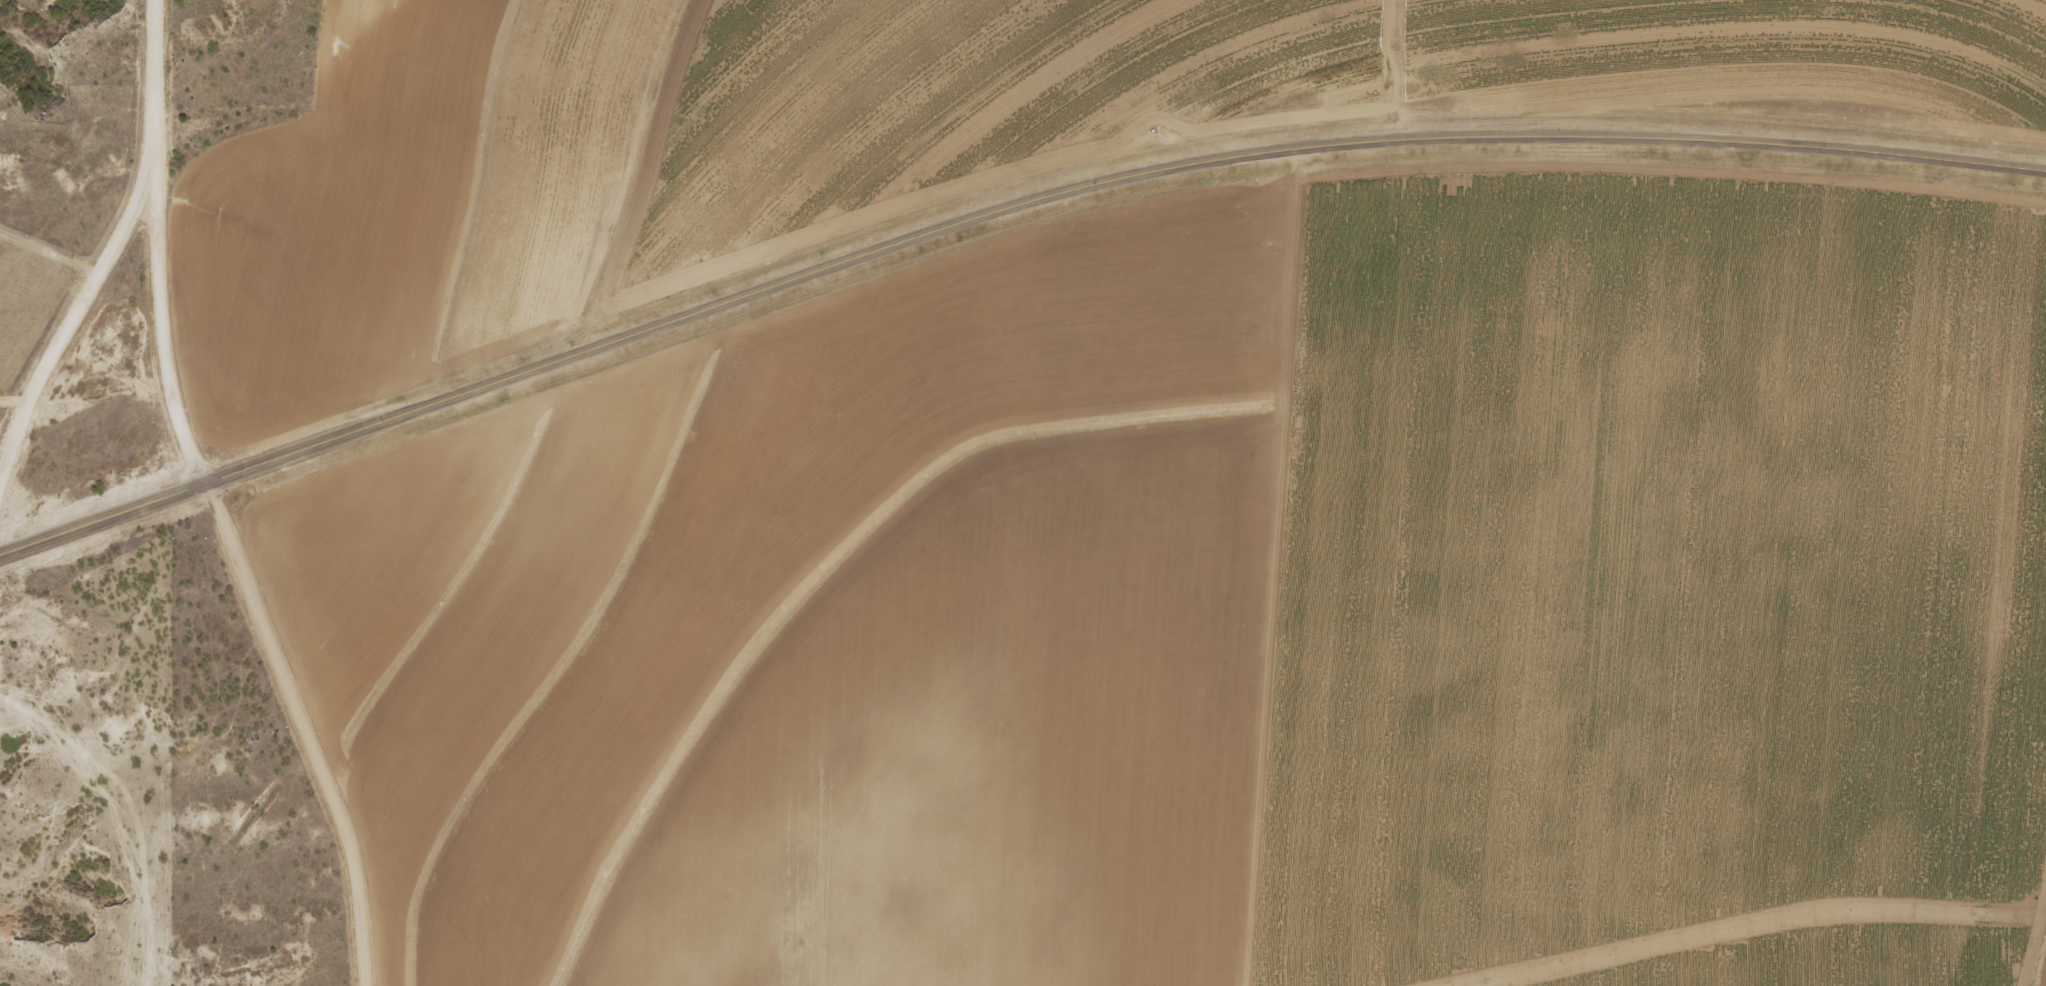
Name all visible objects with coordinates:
road: (998, 210)
road: (90, 248)
road: (40, 257)
road: (1280, 565)
road: (235, 580)

